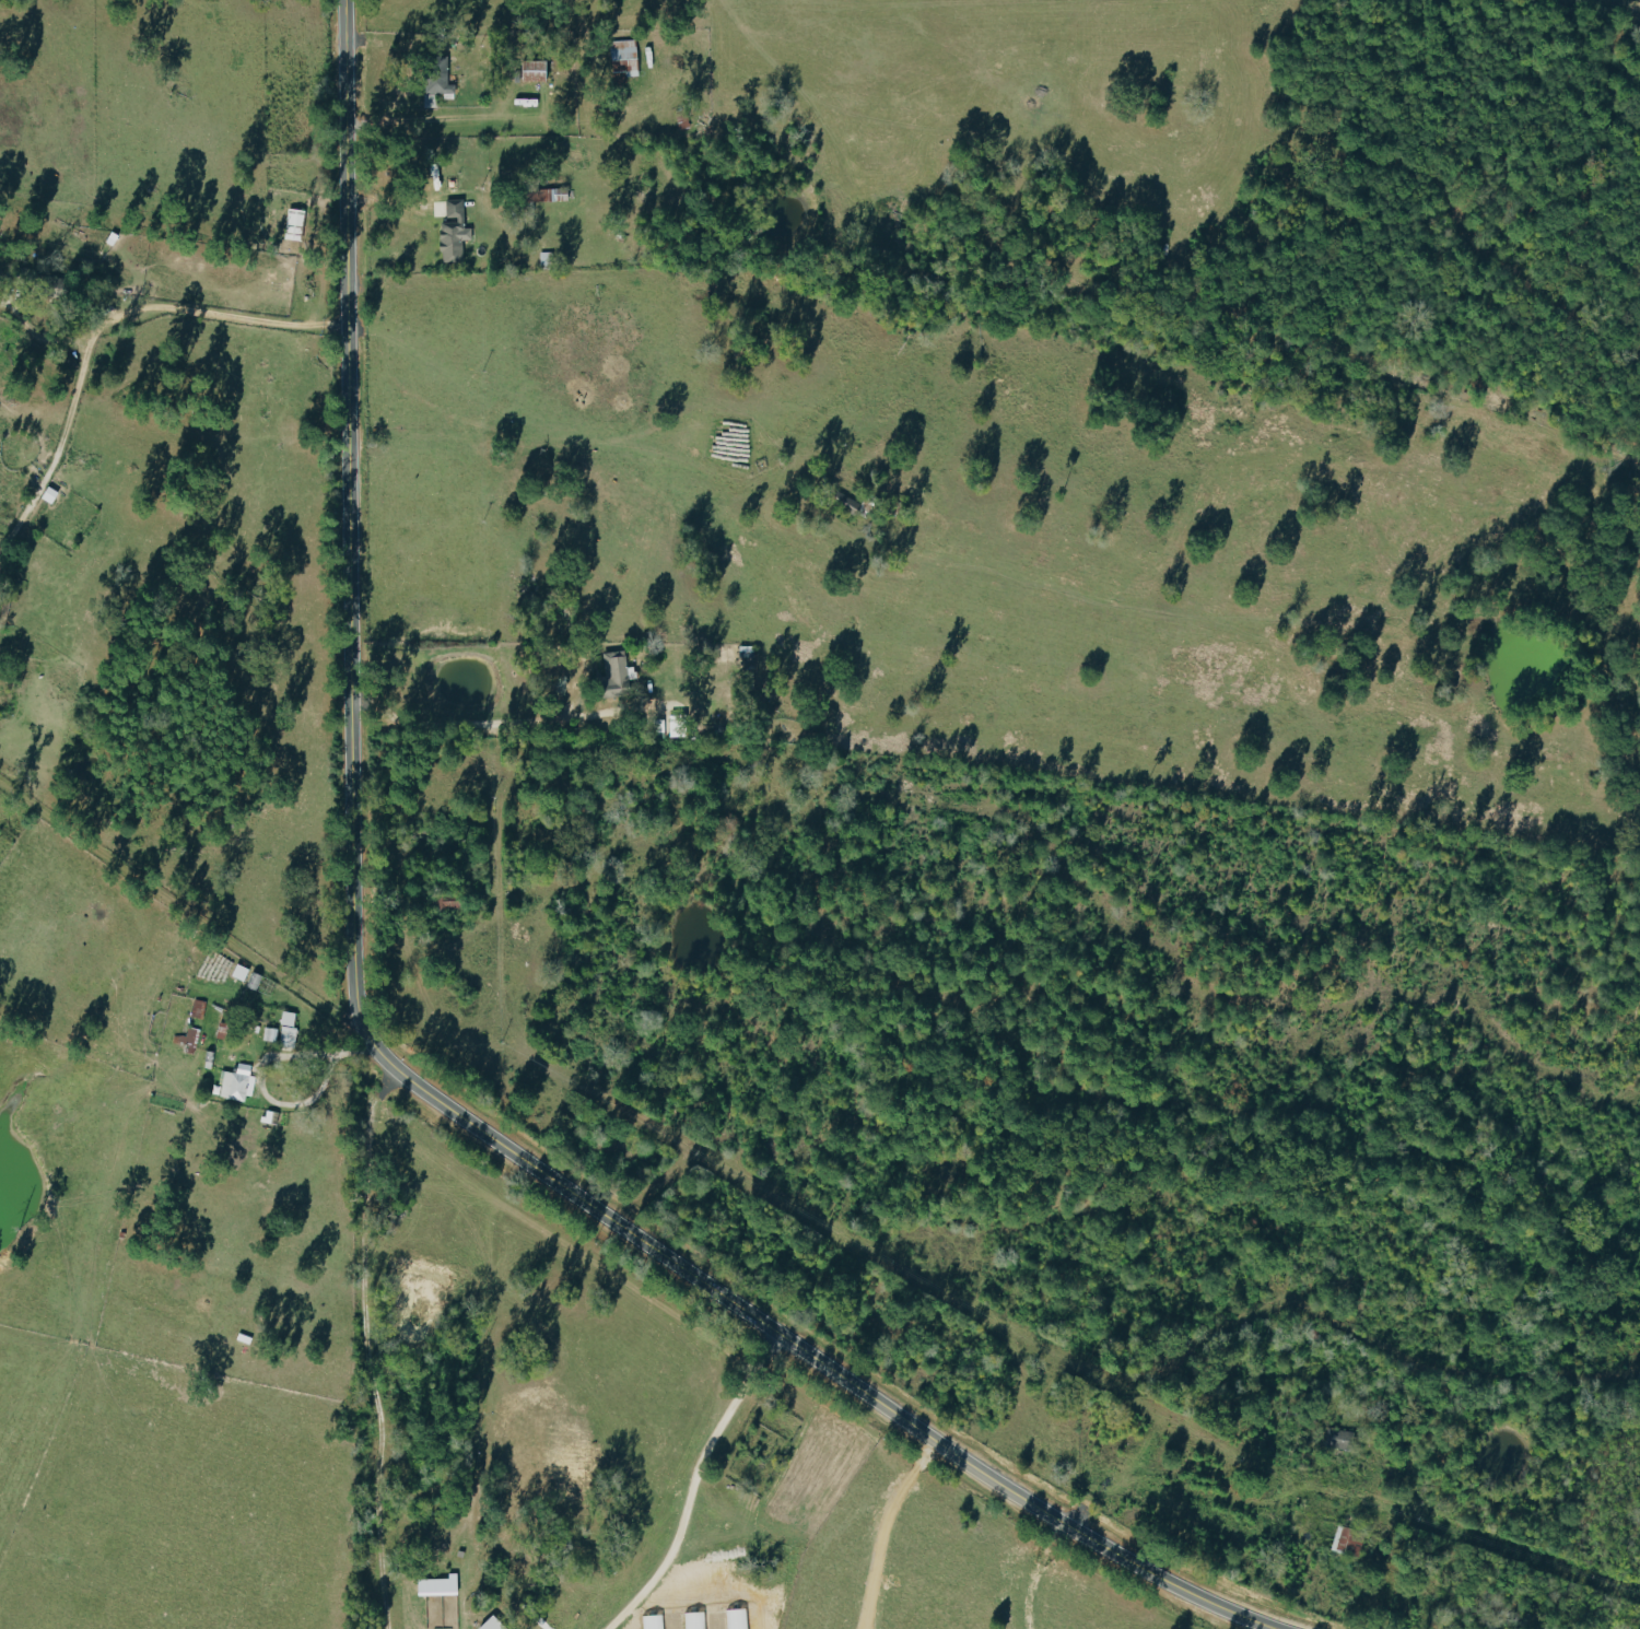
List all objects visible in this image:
building: (625, 58)
building: (537, 71)
building: (440, 87)
building: (295, 223)
building: (455, 230)
road: (96, 325)
road: (37, 335)
building: (619, 673)
road: (477, 724)
building: (679, 725)
building: (256, 981)
building: (199, 1008)
building: (289, 1028)
building: (190, 1039)
road: (389, 1056)
building: (238, 1082)
road: (329, 1088)
road: (373, 1345)
building: (1338, 1438)
road: (703, 1484)
building: (1349, 1540)
building: (494, 1624)

